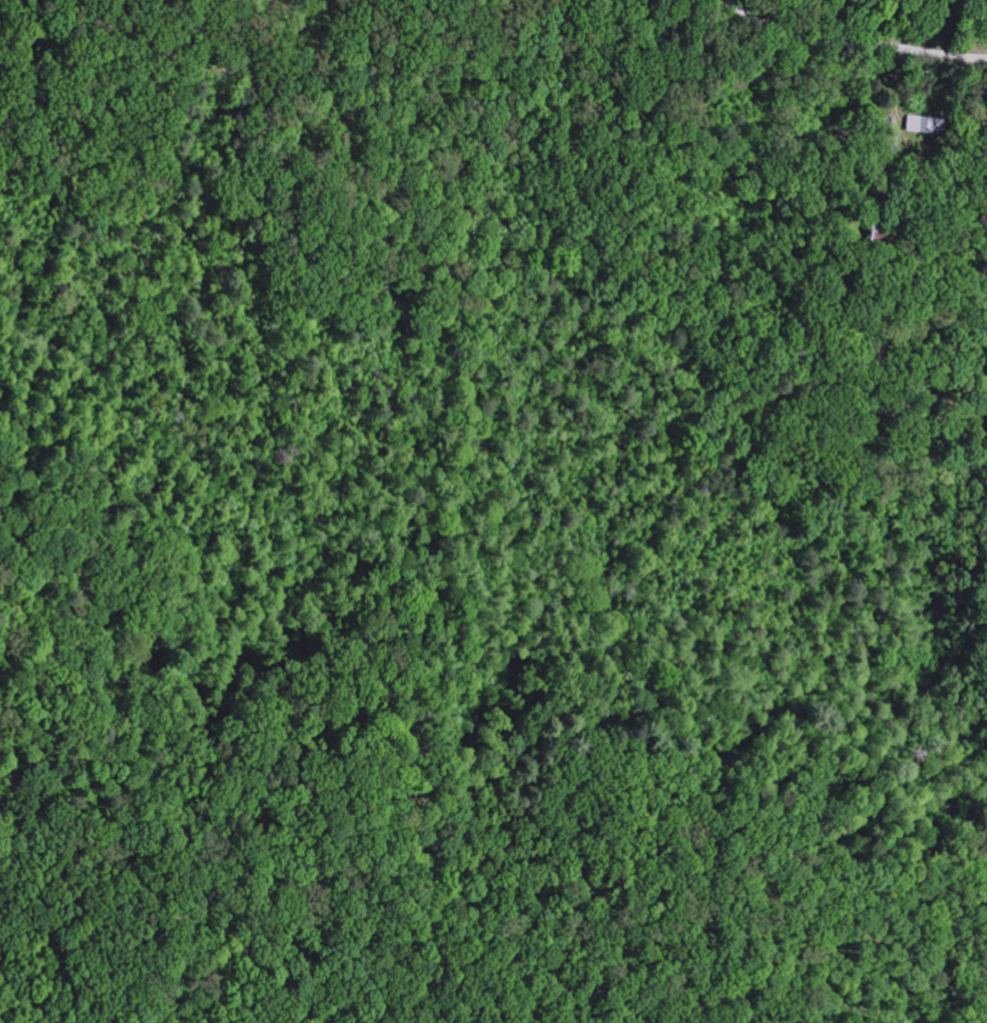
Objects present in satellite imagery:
road: (852, 46)
road: (251, 78)

